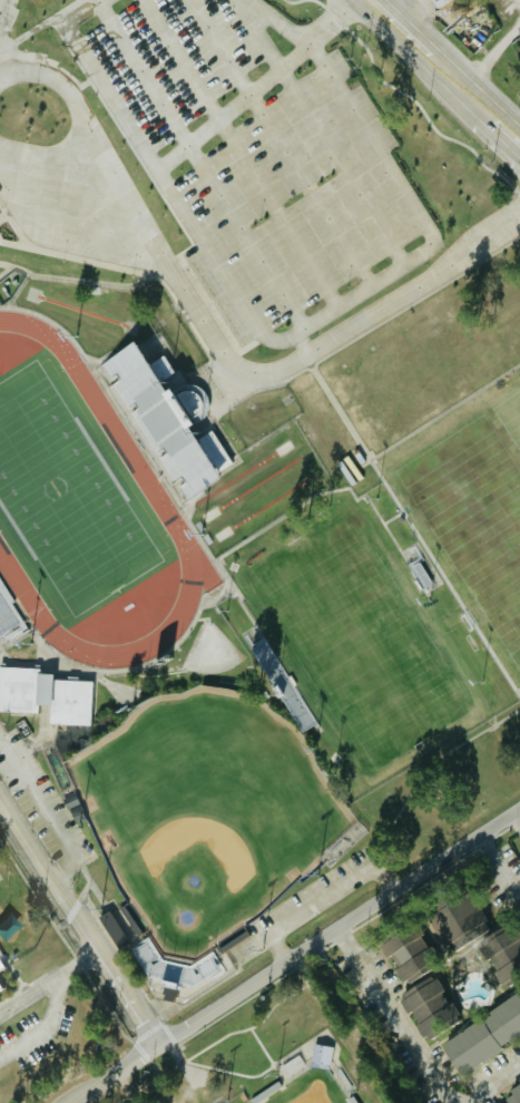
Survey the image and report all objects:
road: (0, 0)
road: (401, 17)
road: (285, 20)
road: (493, 49)
road: (421, 67)
road: (472, 82)
road: (503, 144)
parking lot: (256, 156)
road: (158, 176)
road: (405, 195)
road: (210, 336)
building: (168, 414)
park: (510, 414)
track: (126, 448)
park: (65, 495)
stadium: (117, 507)
park: (474, 516)
building: (8, 612)
park: (356, 640)
building: (46, 693)
road: (0, 800)
park: (205, 810)
road: (519, 812)
building: (78, 814)
road: (499, 871)
road: (78, 920)
building: (461, 925)
building: (120, 926)
road: (340, 928)
road: (278, 947)
building: (402, 950)
building: (503, 954)
road: (80, 963)
building: (1, 964)
building: (1, 985)
building: (0, 989)
road: (30, 990)
building: (428, 1007)
road: (392, 1018)
road: (362, 1024)
road: (45, 1026)
building: (483, 1036)
building: (322, 1054)
road: (111, 1073)
road: (499, 1086)
park: (306, 1087)
building: (512, 1093)

